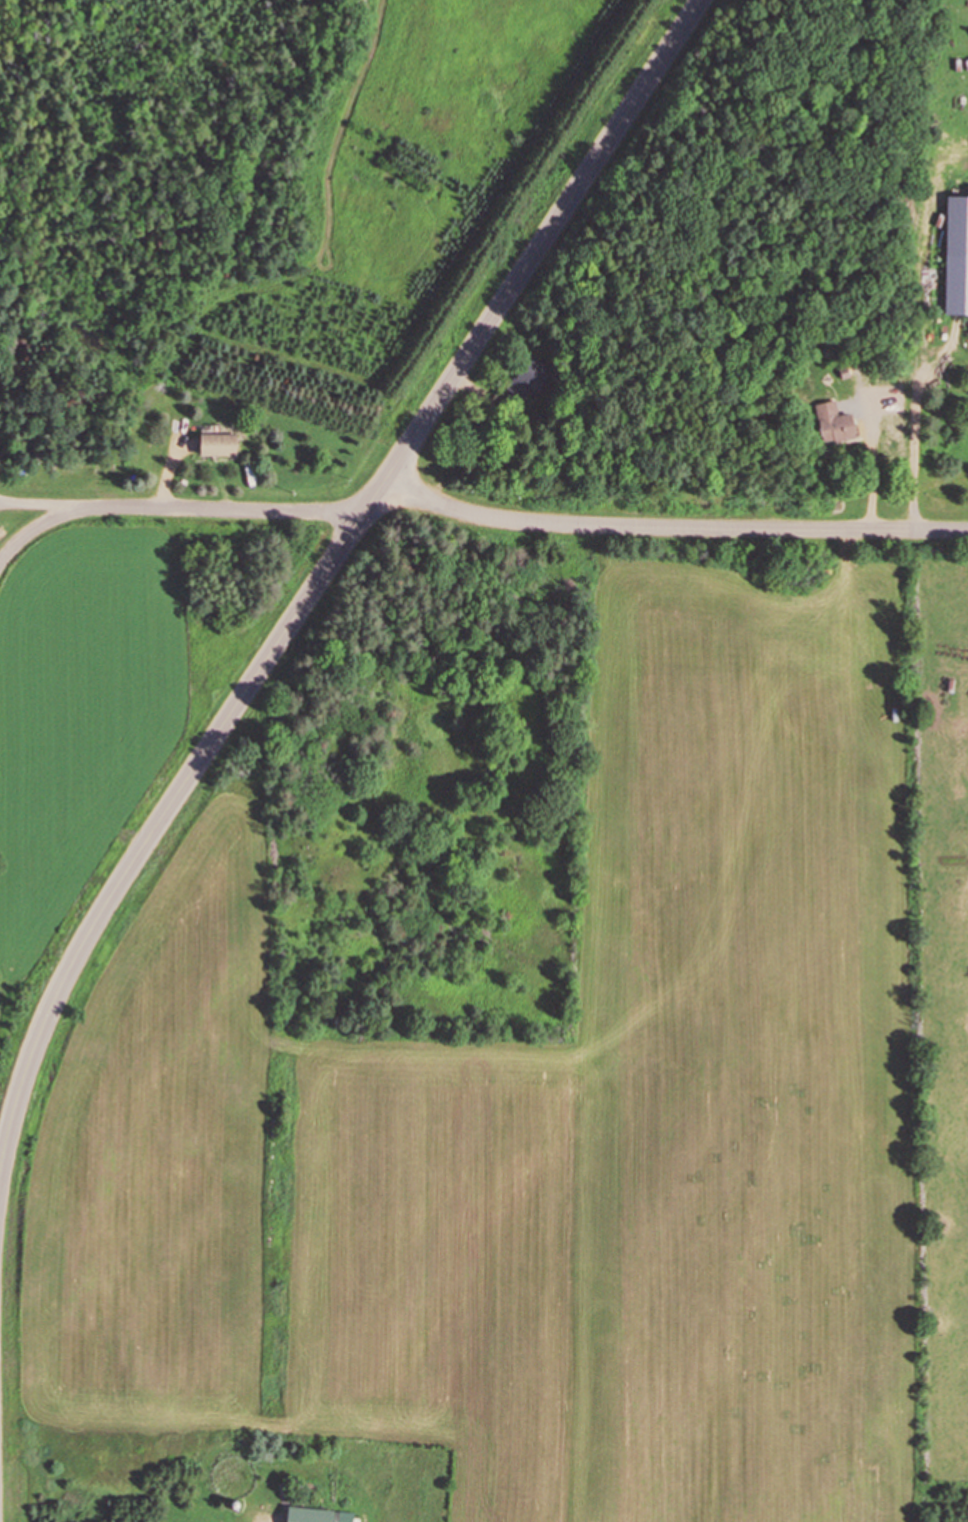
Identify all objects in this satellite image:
building: (945, 251)
building: (529, 379)
building: (831, 422)
building: (217, 444)
road: (475, 512)
road: (2, 562)
road: (323, 576)
building: (317, 1515)

